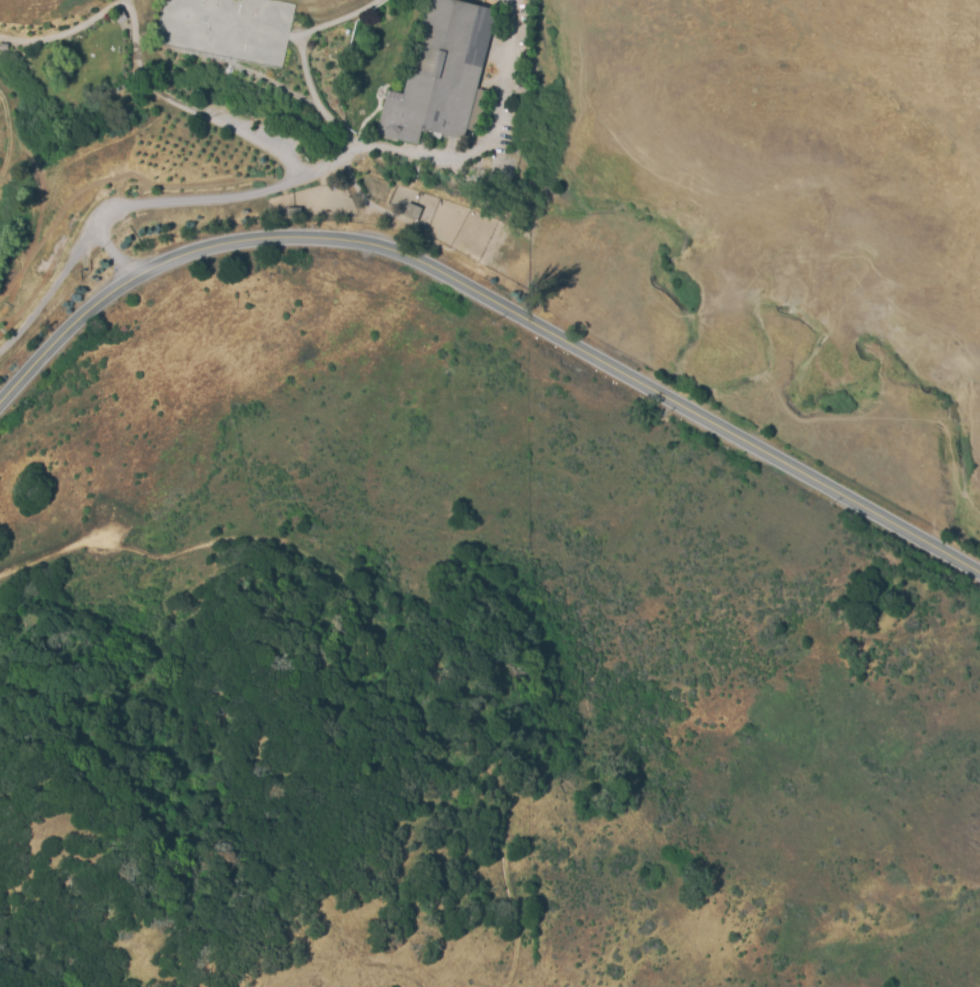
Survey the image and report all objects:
building: (122, 19)
road: (65, 34)
building: (4, 49)
road: (306, 61)
building: (441, 75)
road: (461, 156)
road: (290, 183)
building: (293, 213)
building: (410, 216)
road: (490, 300)

